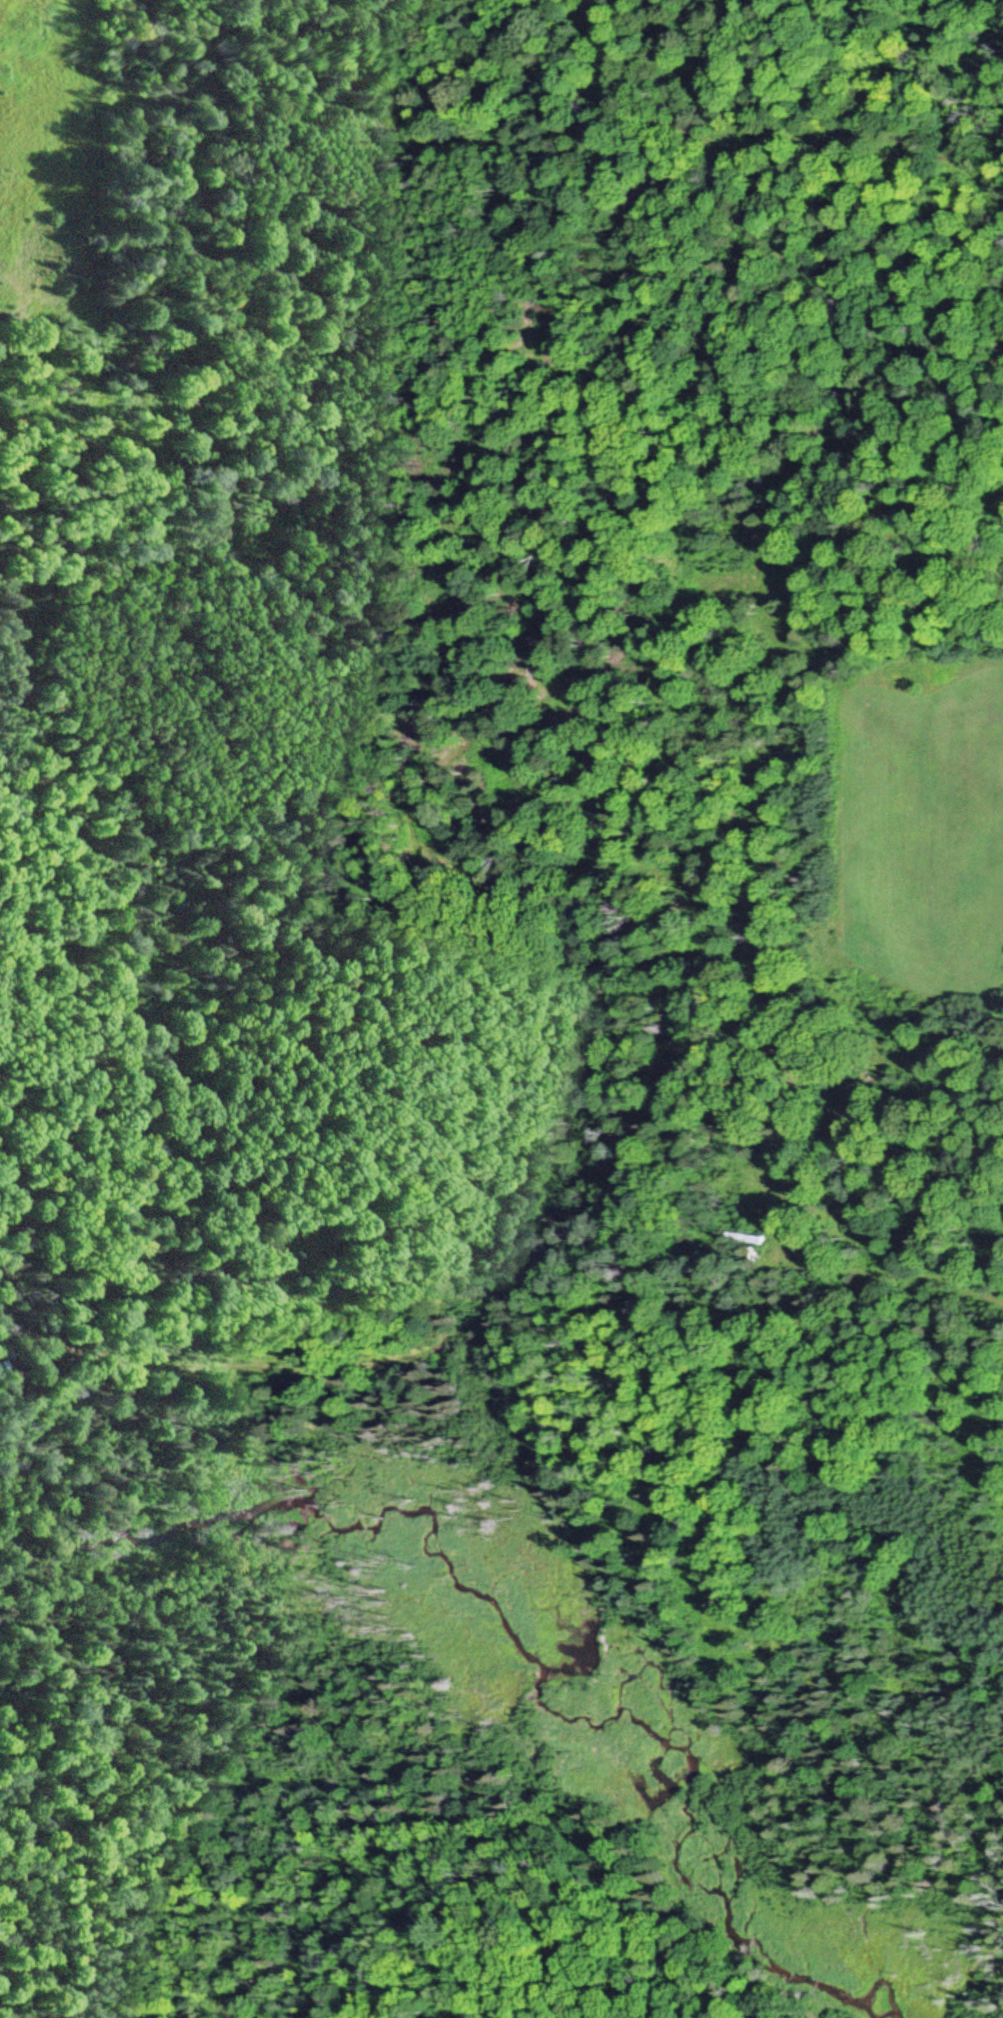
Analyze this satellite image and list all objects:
building: (737, 1239)

